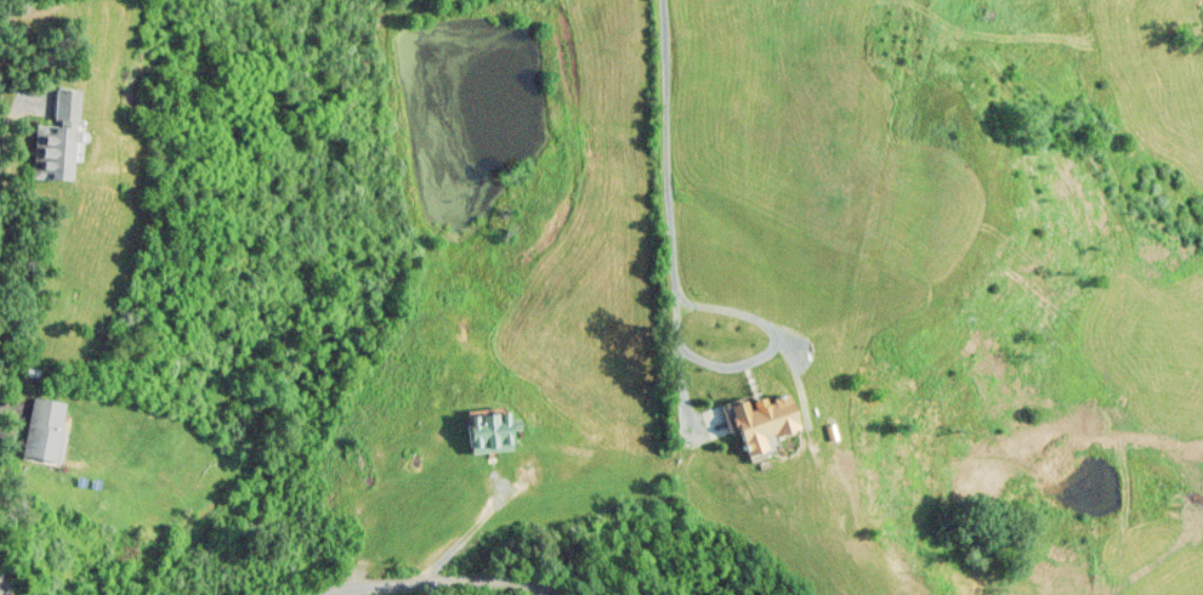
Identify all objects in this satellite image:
building: (57, 140)
road: (436, 580)
road: (4, 585)

